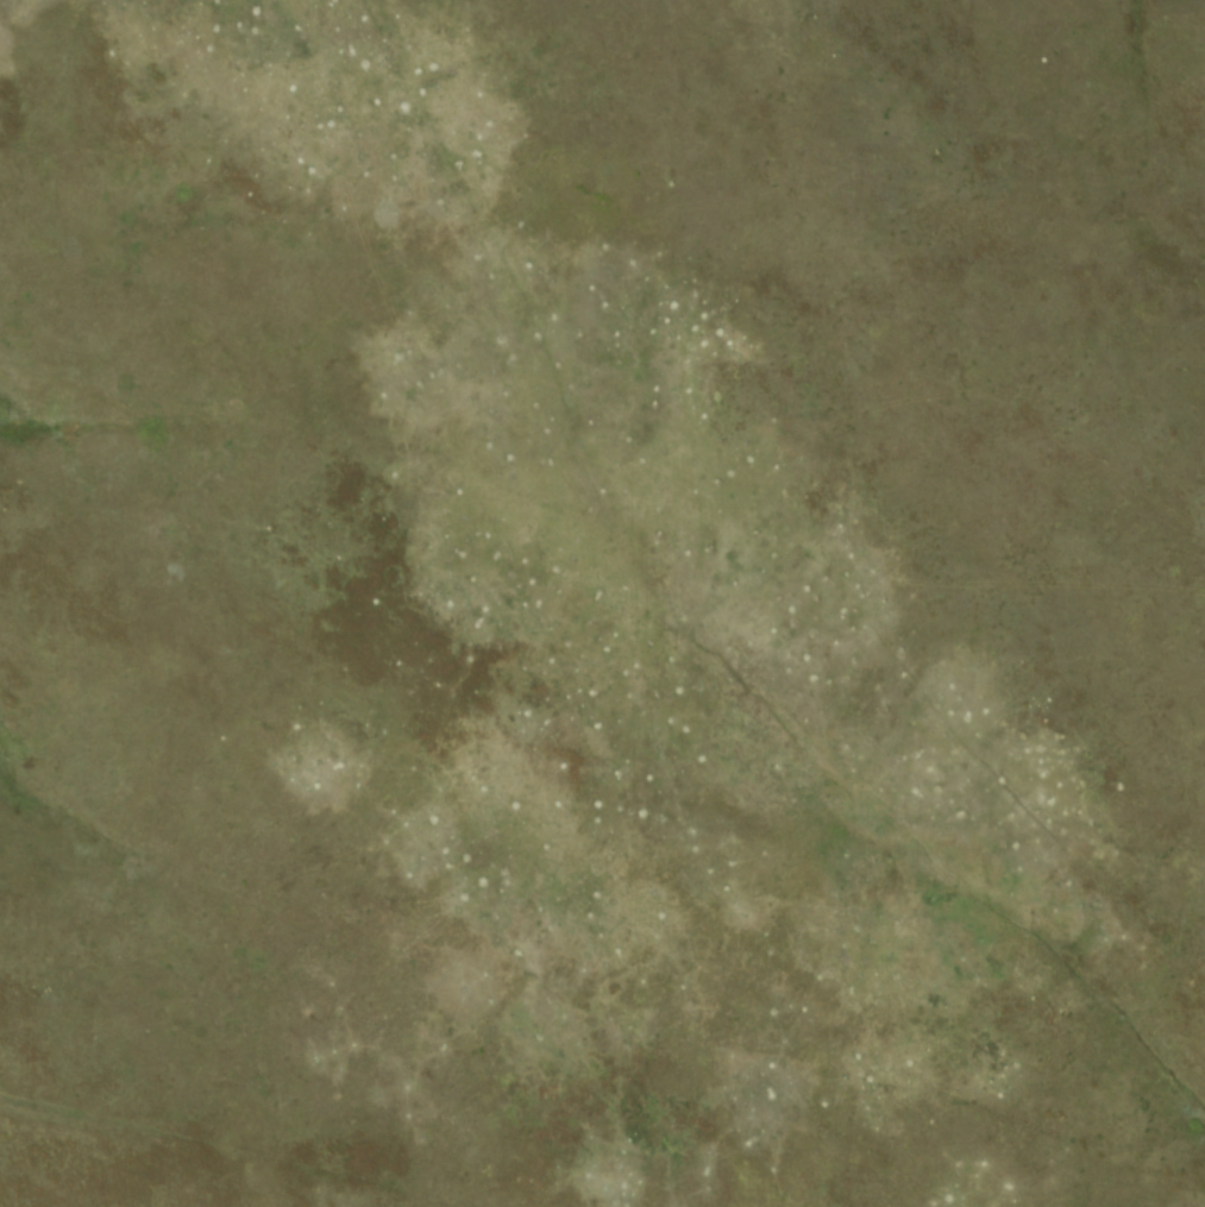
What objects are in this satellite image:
road: (704, 564)

